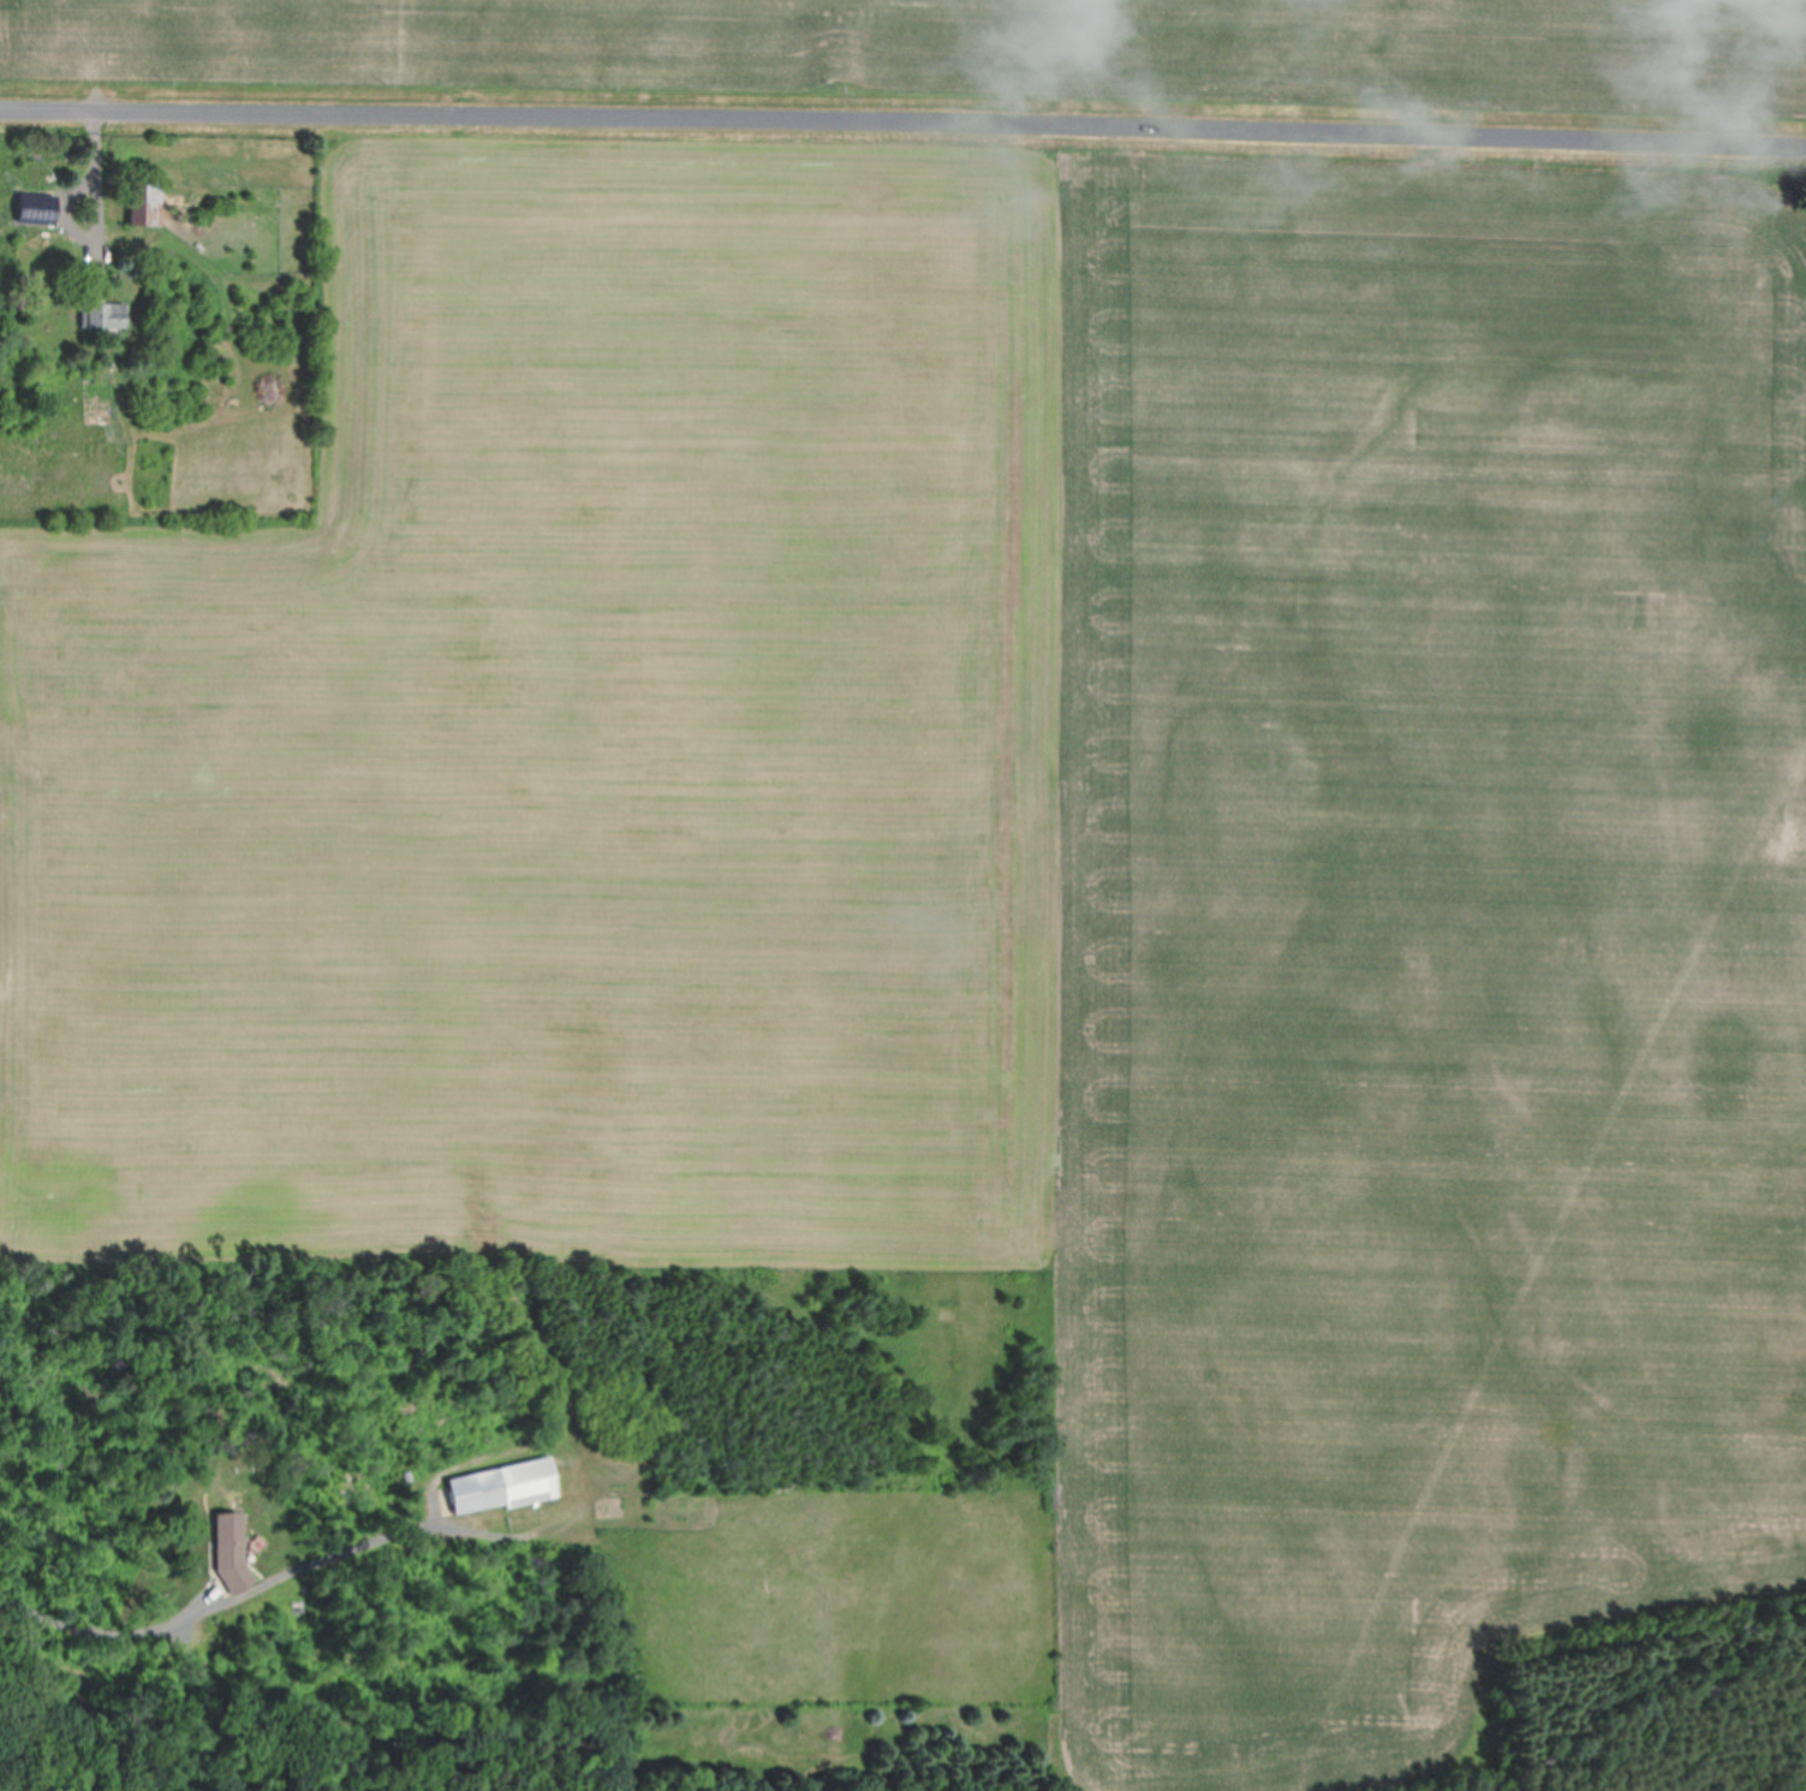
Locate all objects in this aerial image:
road: (902, 111)
building: (143, 203)
building: (40, 206)
building: (102, 314)
building: (502, 1484)
building: (231, 1549)

